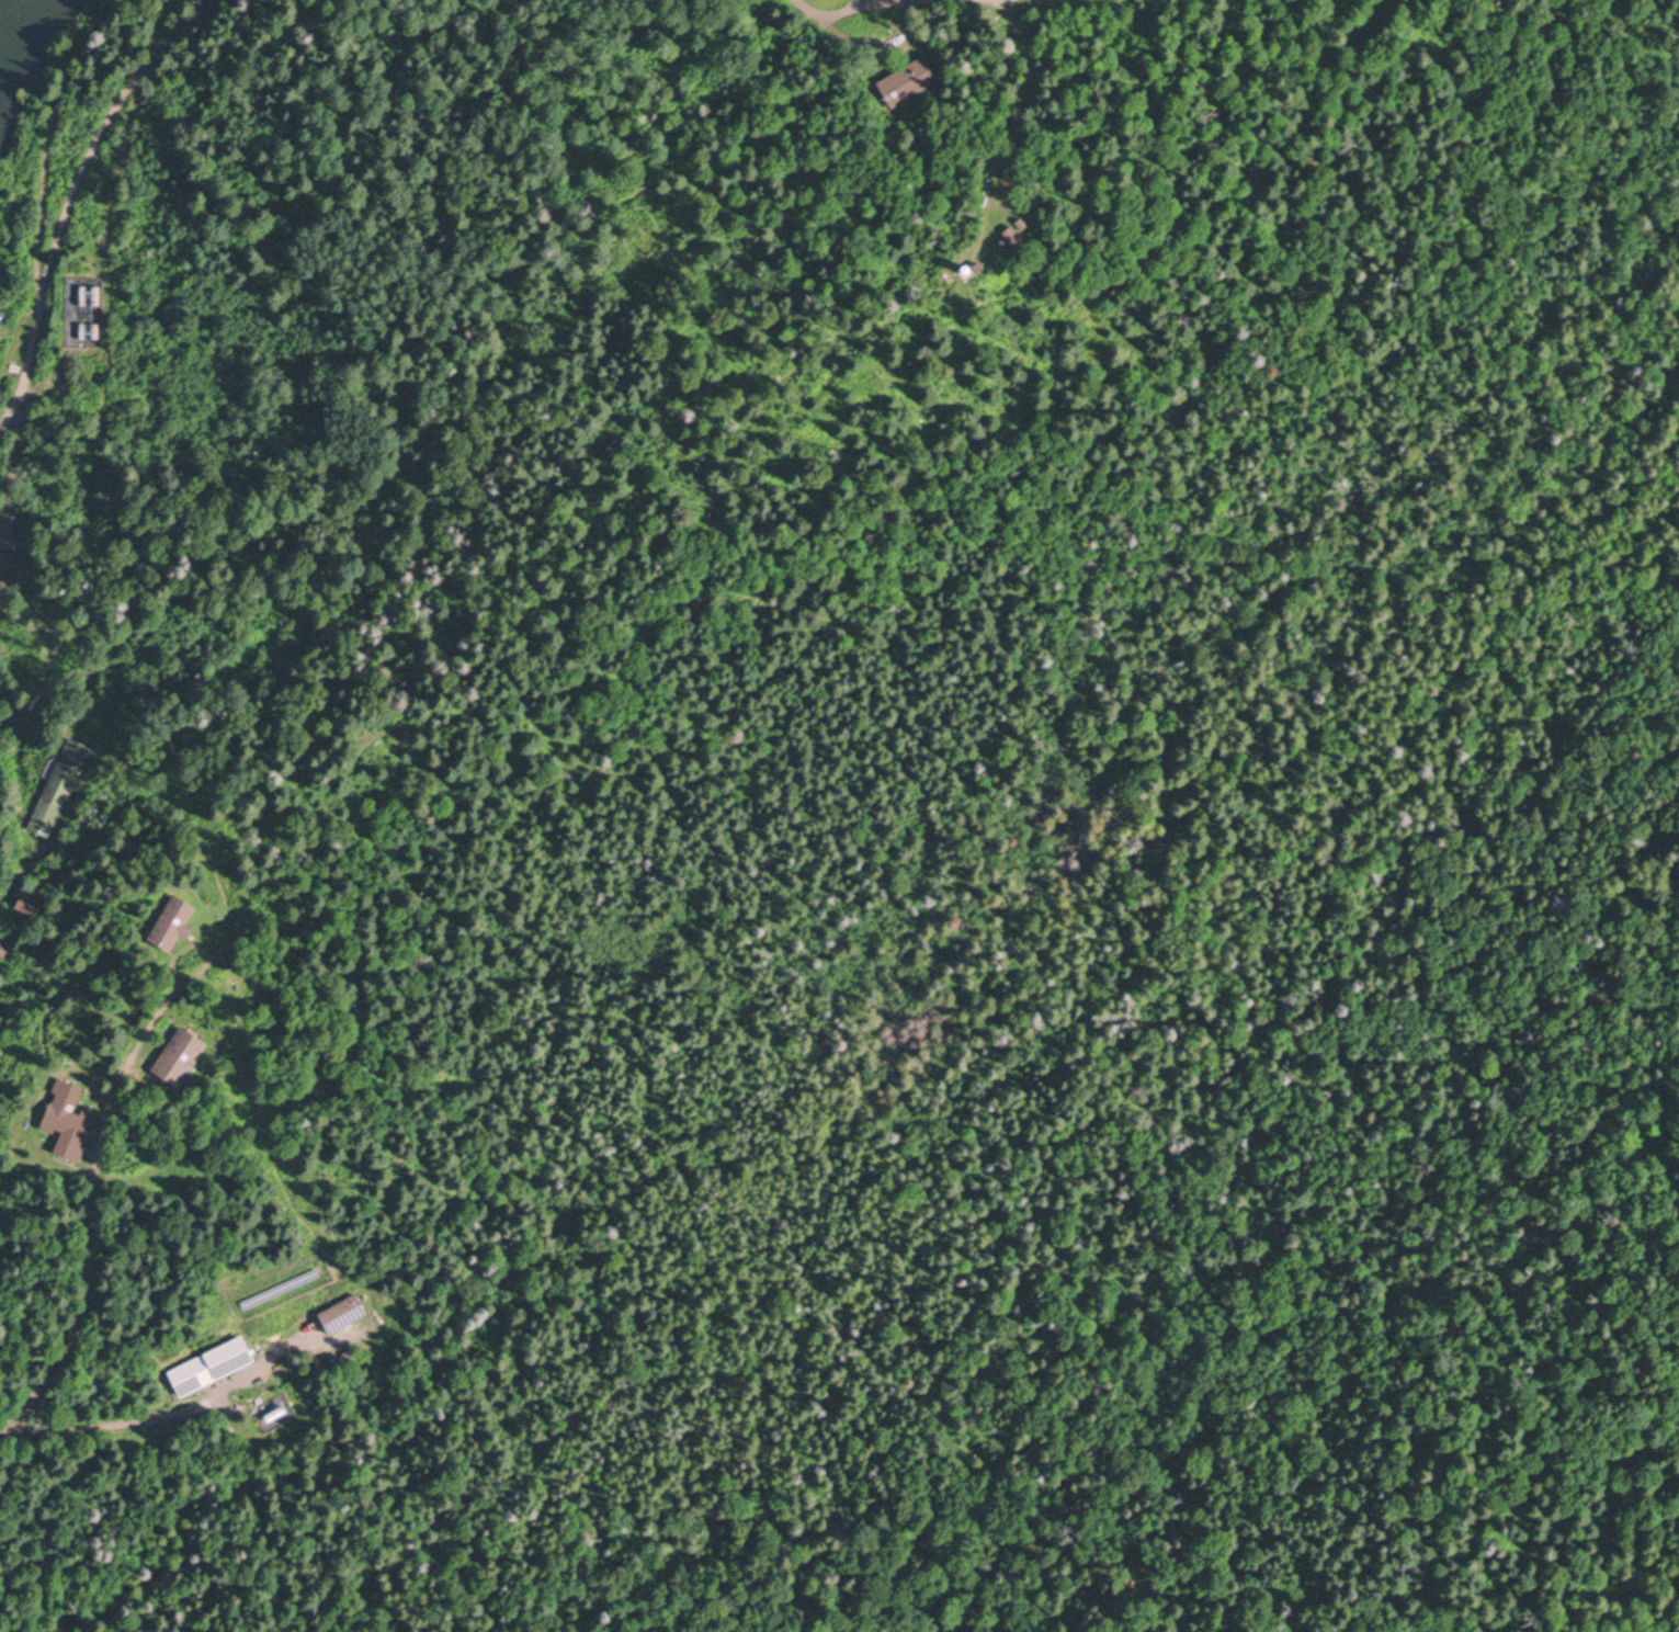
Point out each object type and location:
road: (894, 16)
building: (909, 78)
road: (1013, 124)
road: (56, 134)
road: (71, 192)
building: (982, 269)
storage tank: (982, 269)
building: (968, 270)
storage tank: (968, 270)
building: (82, 295)
storage tank: (82, 295)
building: (97, 295)
storage tank: (97, 295)
building: (83, 329)
storage tank: (83, 329)
building: (95, 330)
storage tank: (95, 330)
road: (344, 343)
building: (58, 786)
road: (14, 876)
building: (24, 910)
building: (173, 920)
building: (180, 1055)
road: (945, 1083)
building: (69, 1118)
road: (90, 1208)
building: (344, 1312)
building: (213, 1364)
road: (175, 1410)
building: (275, 1413)
storage tank: (275, 1413)

